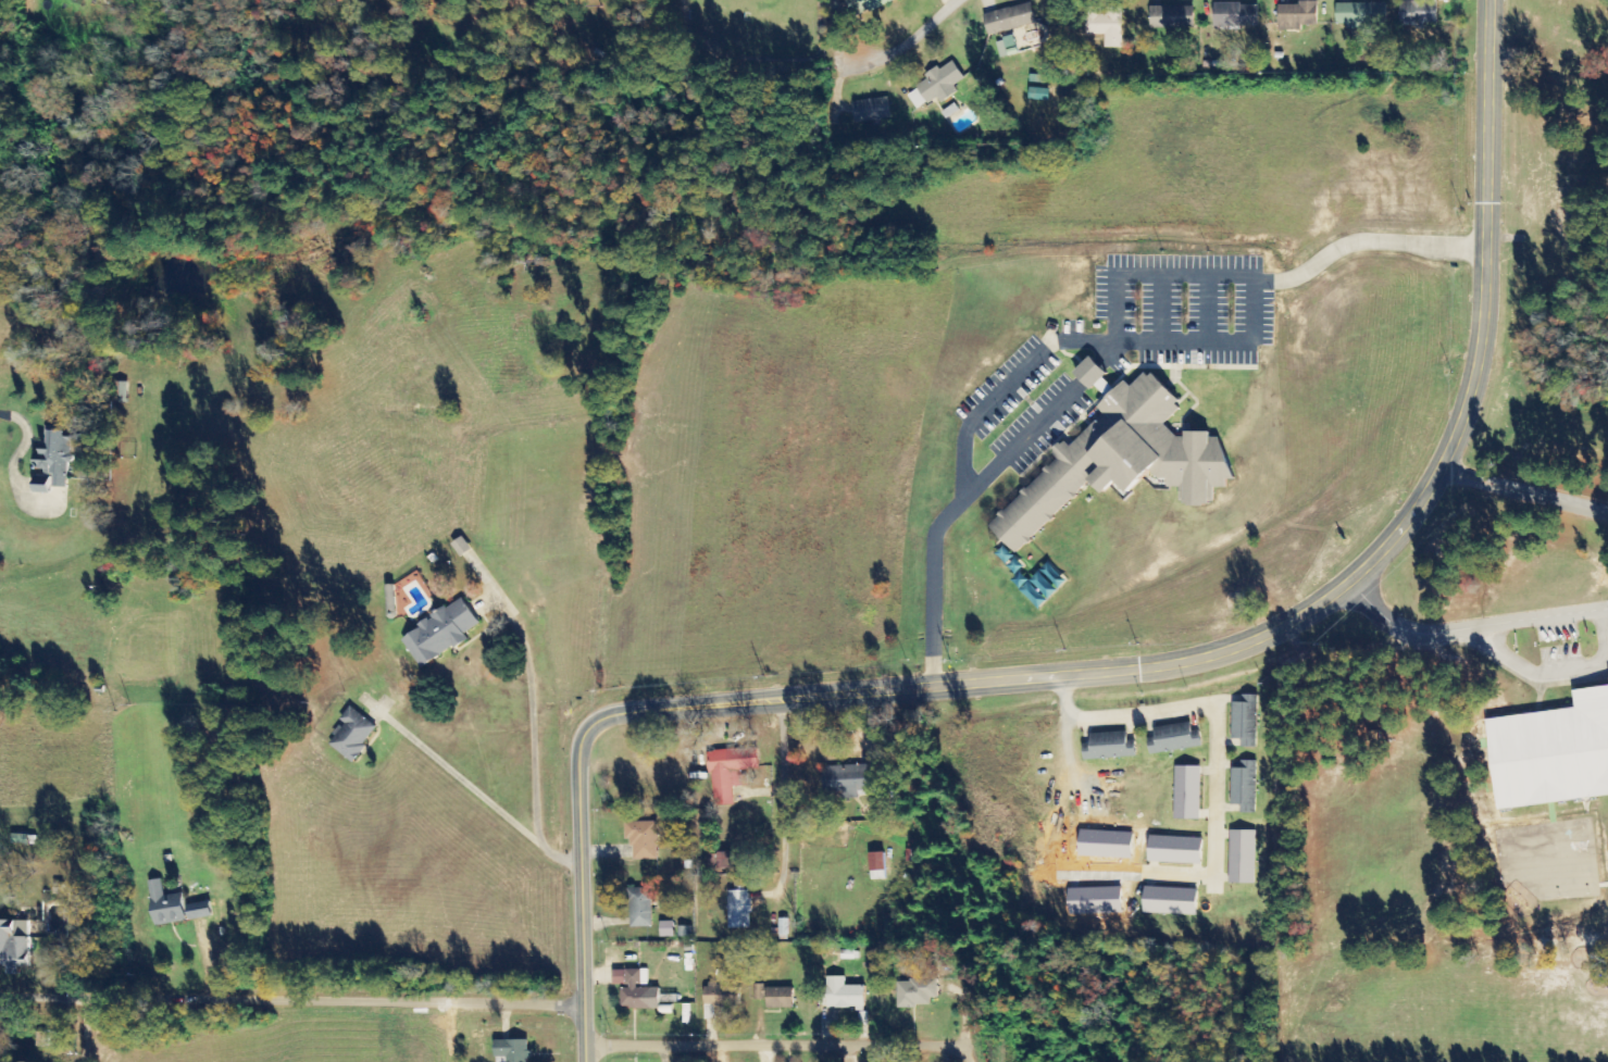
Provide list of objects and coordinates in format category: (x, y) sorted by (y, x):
building: (867, 5)
building: (1419, 13)
building: (1361, 14)
building: (1236, 15)
building: (1297, 16)
building: (1171, 17)
building: (1009, 20)
building: (1106, 28)
road: (888, 57)
building: (937, 86)
building: (1039, 95)
building: (872, 111)
road: (1160, 309)
road: (1208, 309)
road: (1112, 341)
road: (1216, 341)
building: (1093, 375)
road: (1046, 420)
building: (1120, 460)
road: (1522, 495)
building: (461, 546)
building: (1039, 584)
road: (1469, 629)
road: (1260, 630)
building: (440, 633)
building: (1245, 721)
building: (352, 734)
building: (1174, 738)
building: (1110, 746)
building: (1553, 752)
building: (730, 773)
building: (848, 779)
building: (1245, 787)
building: (1187, 792)
building: (643, 839)
building: (1175, 850)
building: (1243, 857)
building: (731, 860)
building: (877, 866)
building: (1171, 901)
building: (166, 904)
building: (640, 908)
building: (739, 909)
building: (199, 911)
road: (582, 913)
building: (666, 929)
building: (14, 945)
building: (634, 989)
road: (292, 992)
building: (917, 992)
building: (845, 995)
building: (723, 996)
building: (776, 997)
road: (83, 1025)
road: (793, 1036)

